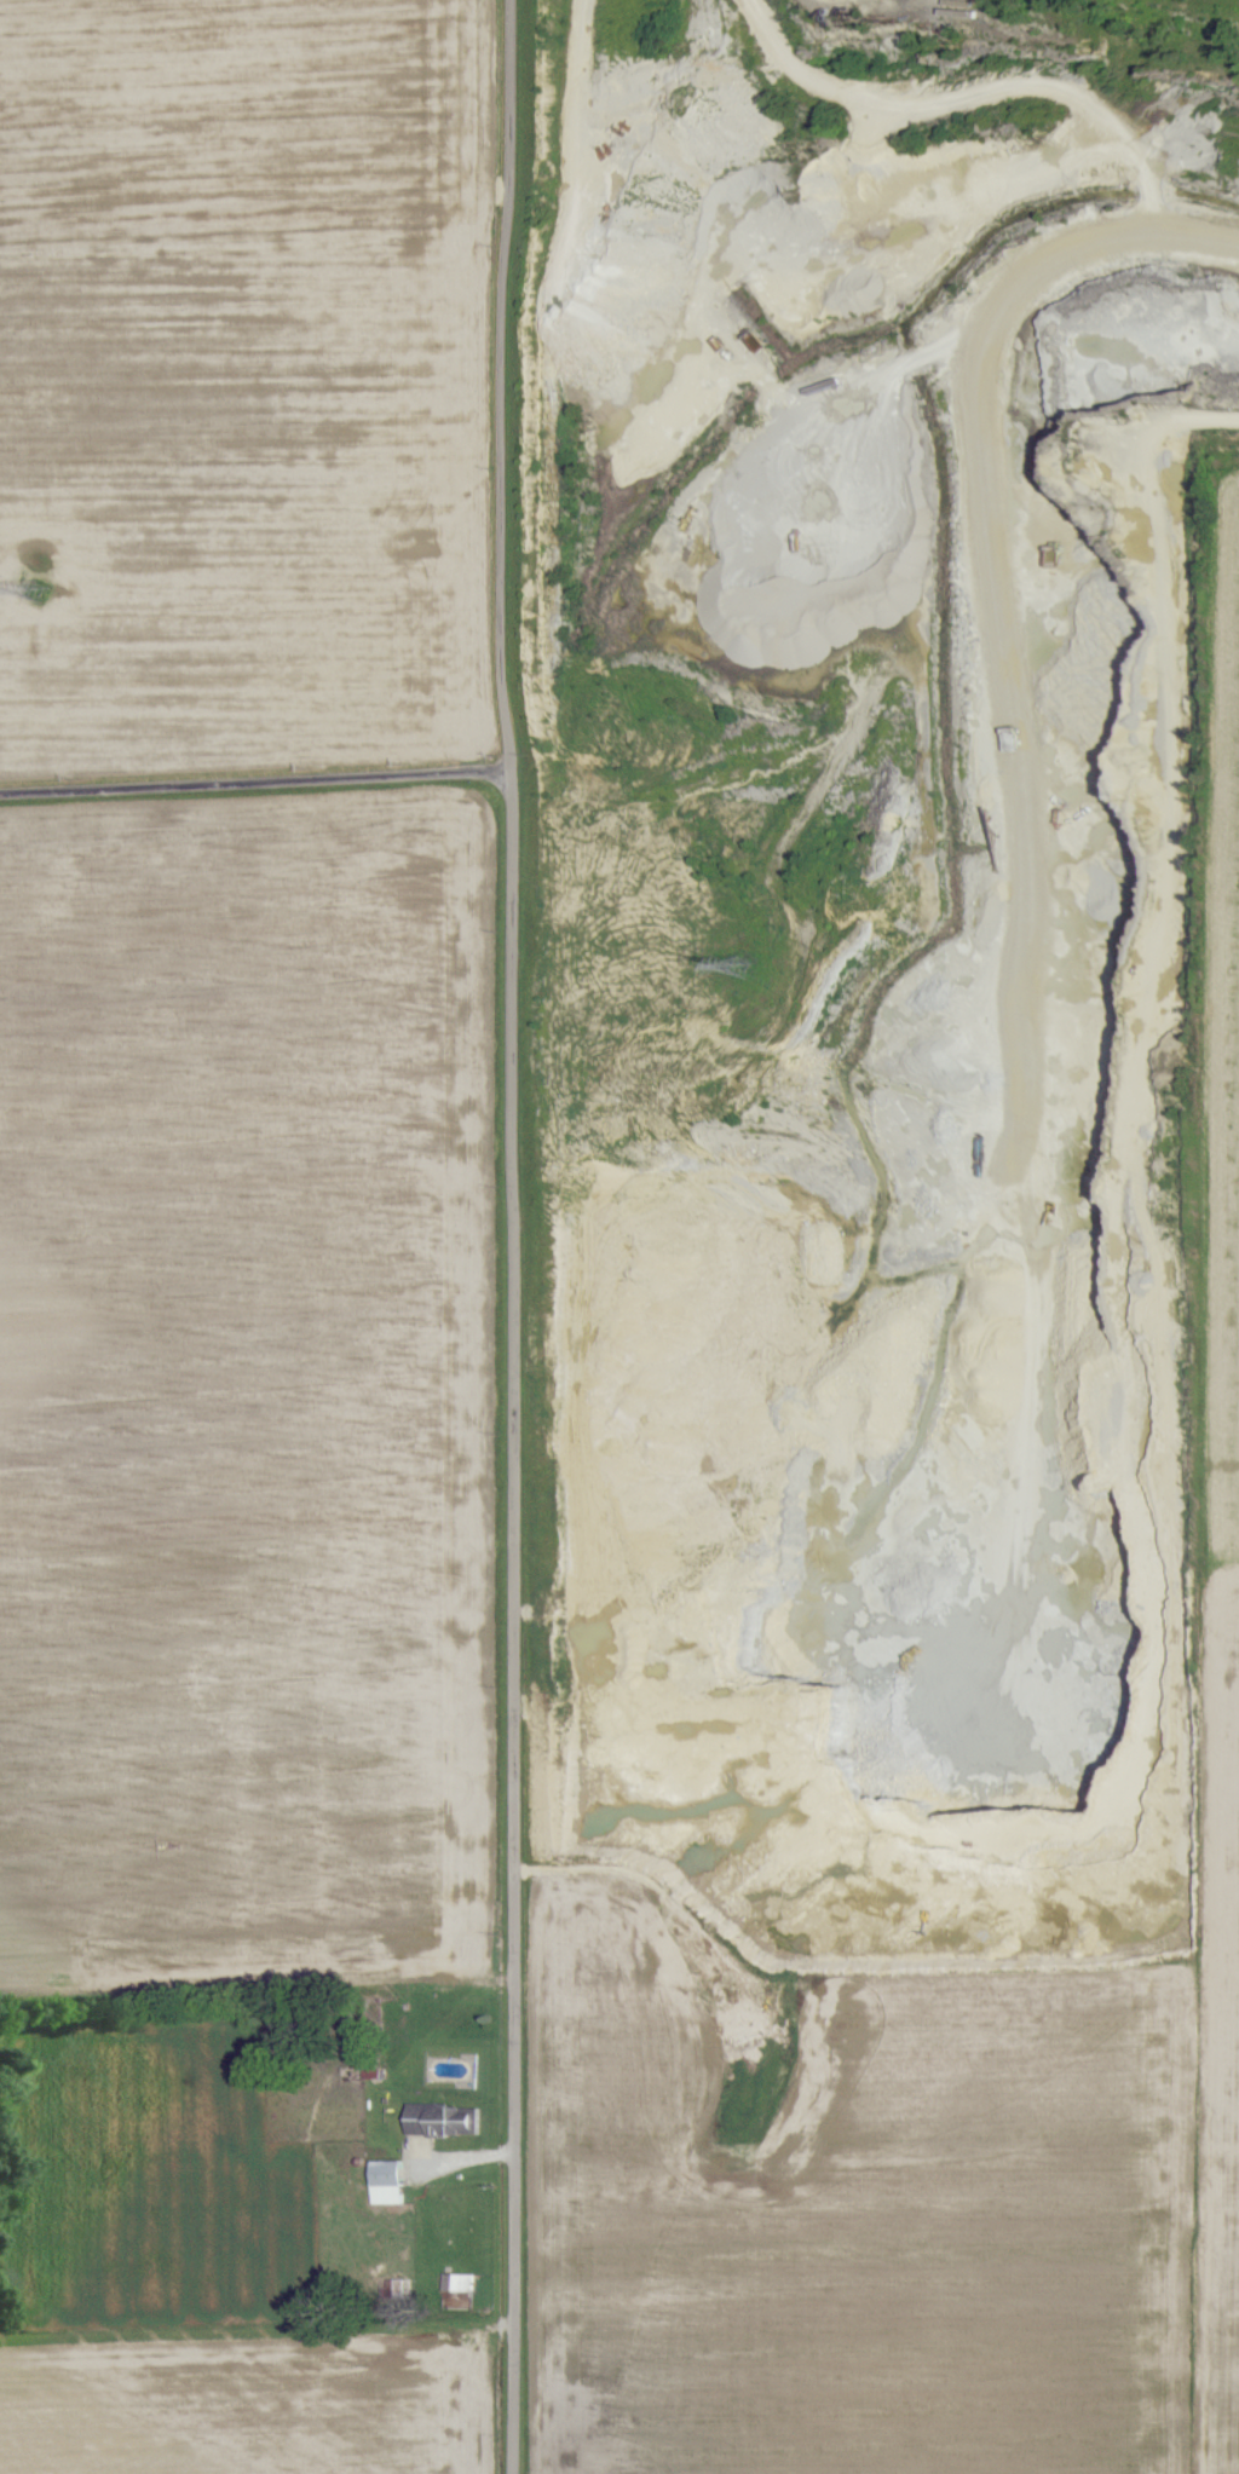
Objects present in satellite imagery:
power tower: (17, 605)
road: (254, 782)
quarry: (870, 968)
road: (508, 1236)
building: (436, 2120)
building: (380, 2182)
building: (453, 2283)

